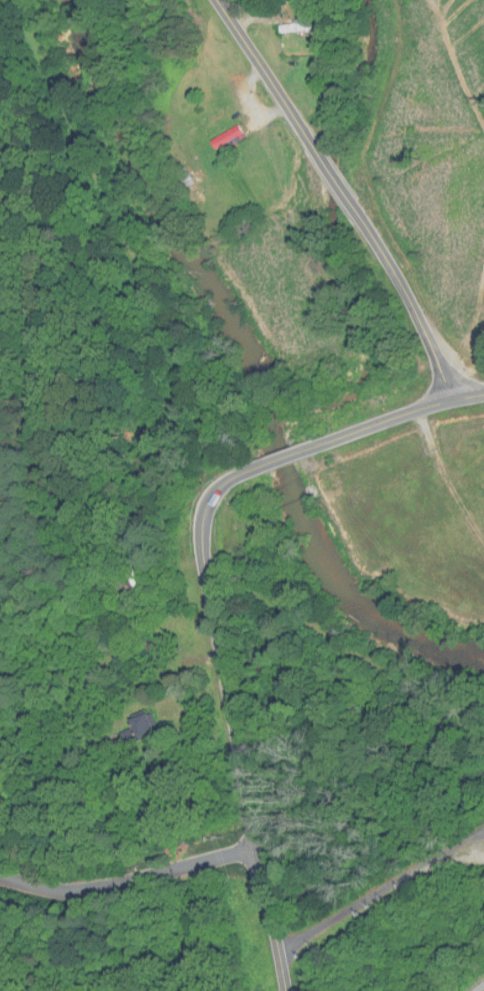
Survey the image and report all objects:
building: (218, 121)
building: (233, 137)
road: (346, 194)
building: (141, 584)
road: (211, 598)
building: (143, 731)
road: (129, 883)

